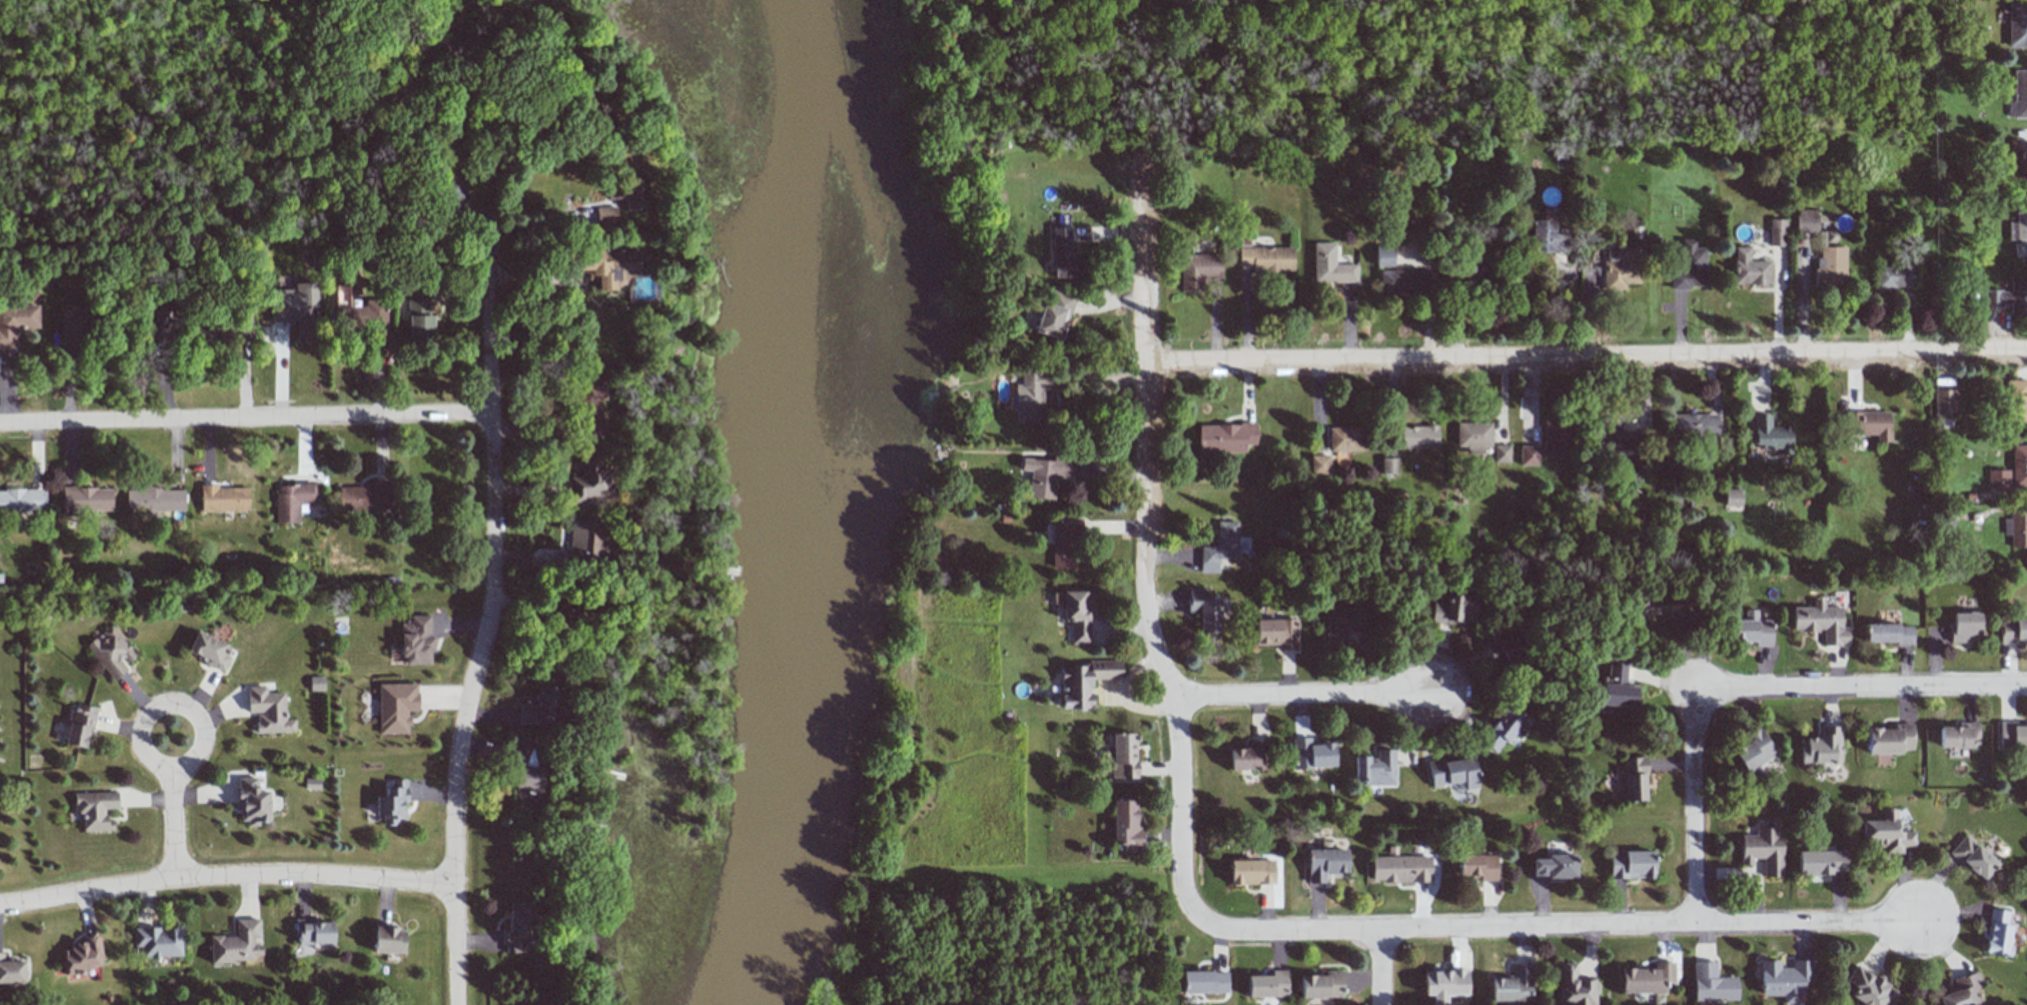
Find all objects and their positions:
road: (1026, 9)
road: (908, 20)
road: (1316, 24)
building: (2017, 24)
road: (944, 25)
building: (2018, 95)
building: (2017, 160)
building: (452, 188)
building: (623, 192)
building: (606, 216)
building: (1806, 220)
building: (1776, 232)
building: (2019, 232)
building: (1547, 237)
building: (1385, 255)
building: (1065, 256)
building: (1267, 258)
building: (608, 266)
building: (1331, 266)
building: (1830, 266)
building: (1620, 267)
building: (1689, 267)
building: (1749, 268)
building: (1198, 270)
building: (1895, 275)
building: (1470, 278)
building: (1402, 282)
building: (2009, 297)
building: (296, 310)
building: (418, 313)
building: (1054, 314)
building: (362, 319)
building: (16, 322)
building: (160, 327)
building: (74, 329)
road: (1582, 358)
building: (1031, 395)
building: (1944, 401)
building: (2017, 402)
building: (587, 408)
road: (245, 417)
building: (1868, 424)
building: (1692, 427)
building: (1771, 435)
building: (1473, 436)
building: (1225, 437)
building: (1418, 437)
building: (1556, 438)
building: (1346, 439)
building: (1618, 441)
building: (1501, 453)
building: (1529, 455)
building: (1320, 464)
building: (1389, 465)
building: (2011, 470)
building: (1044, 475)
building: (591, 478)
building: (365, 497)
building: (1732, 497)
building: (224, 498)
building: (86, 499)
building: (153, 500)
building: (22, 501)
building: (292, 501)
river: (818, 504)
building: (2016, 529)
road: (1138, 535)
building: (588, 541)
building: (1064, 543)
building: (1220, 546)
building: (1204, 610)
building: (1454, 610)
building: (1649, 610)
road: (490, 612)
building: (1078, 615)
building: (1821, 622)
building: (1344, 623)
building: (1965, 627)
building: (1751, 629)
building: (2013, 630)
building: (1276, 633)
building: (1888, 634)
building: (416, 641)
building: (209, 650)
building: (1506, 651)
building: (111, 652)
building: (1083, 682)
building: (316, 683)
building: (1617, 684)
road: (1866, 688)
road: (1302, 695)
building: (396, 707)
building: (543, 707)
building: (268, 710)
road: (148, 715)
building: (80, 725)
building: (1501, 729)
building: (1958, 735)
building: (2012, 735)
building: (1889, 739)
building: (1822, 746)
building: (1754, 750)
building: (1312, 753)
building: (1122, 755)
building: (1248, 756)
building: (1375, 768)
building: (1453, 773)
building: (528, 774)
building: (1634, 778)
building: (312, 783)
building: (252, 802)
building: (393, 802)
building: (95, 810)
road: (1694, 811)
road: (174, 821)
building: (1126, 826)
building: (1886, 833)
building: (1764, 848)
building: (1973, 857)
building: (1820, 862)
building: (1325, 863)
building: (1631, 864)
building: (1478, 866)
building: (1555, 866)
building: (1401, 869)
building: (1251, 871)
road: (226, 875)
road: (1555, 926)
building: (518, 927)
building: (313, 932)
building: (1997, 932)
building: (388, 939)
building: (158, 941)
building: (237, 943)
building: (82, 954)
road: (1382, 967)
building: (10, 971)
building: (1647, 978)
building: (1784, 980)
building: (1204, 982)
building: (1445, 983)
building: (1712, 983)
building: (1267, 985)
building: (1322, 985)
building: (1512, 986)
building: (1575, 986)
building: (1870, 988)
building: (1963, 992)

